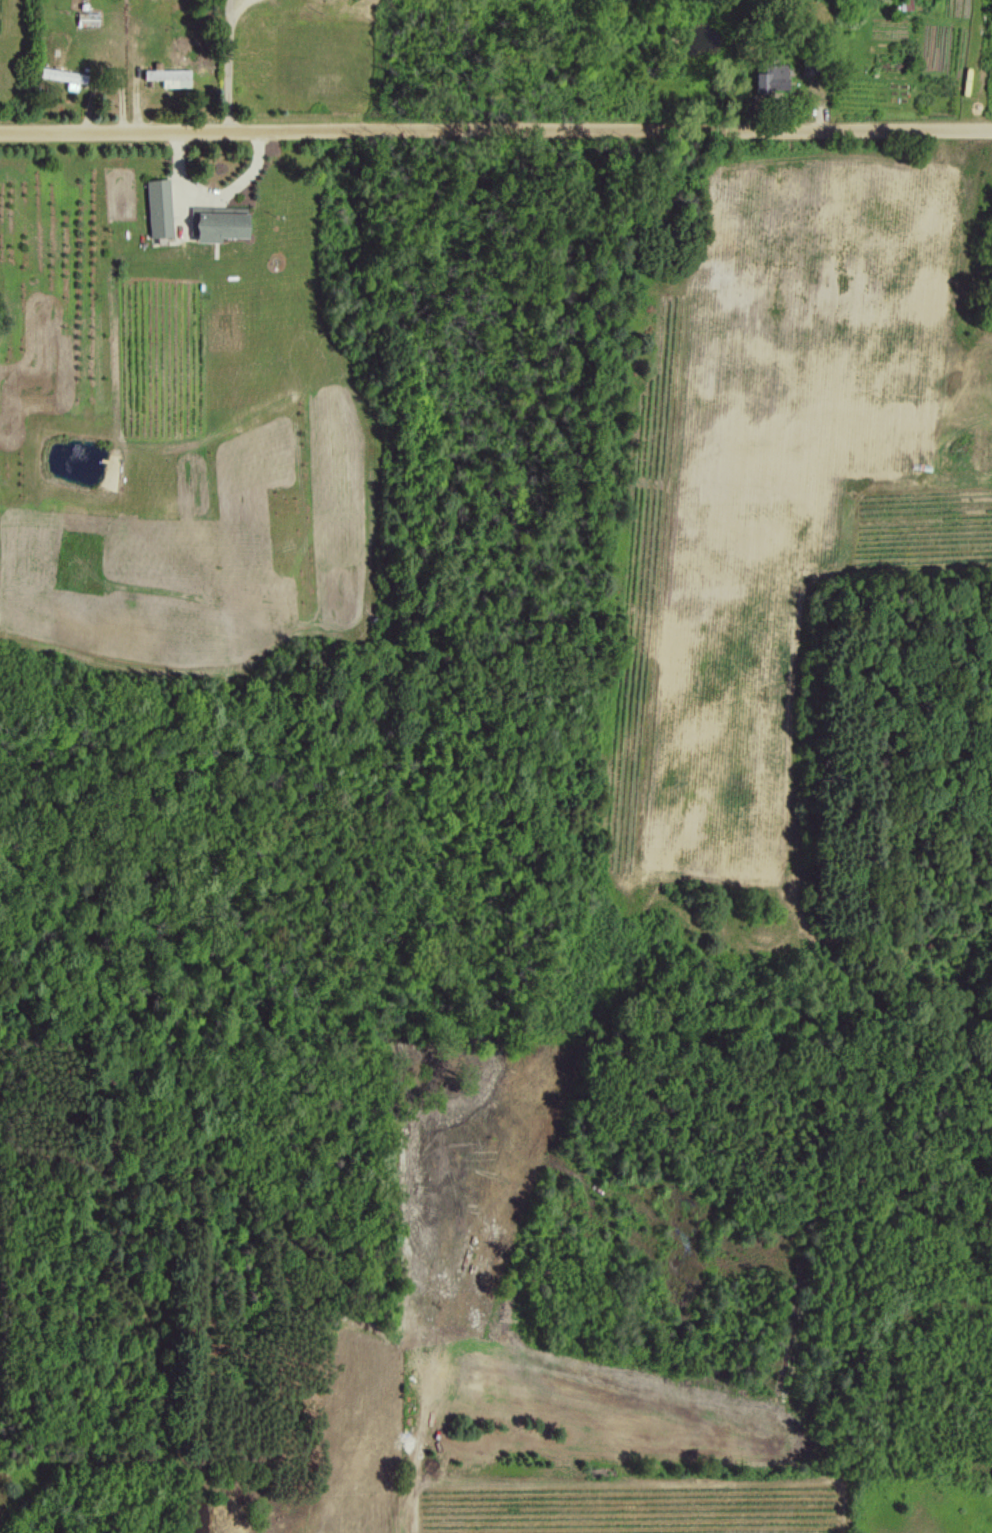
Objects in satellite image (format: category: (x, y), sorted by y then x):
road: (224, 65)
building: (63, 76)
building: (168, 76)
building: (770, 77)
road: (495, 130)
building: (157, 207)
building: (218, 223)

